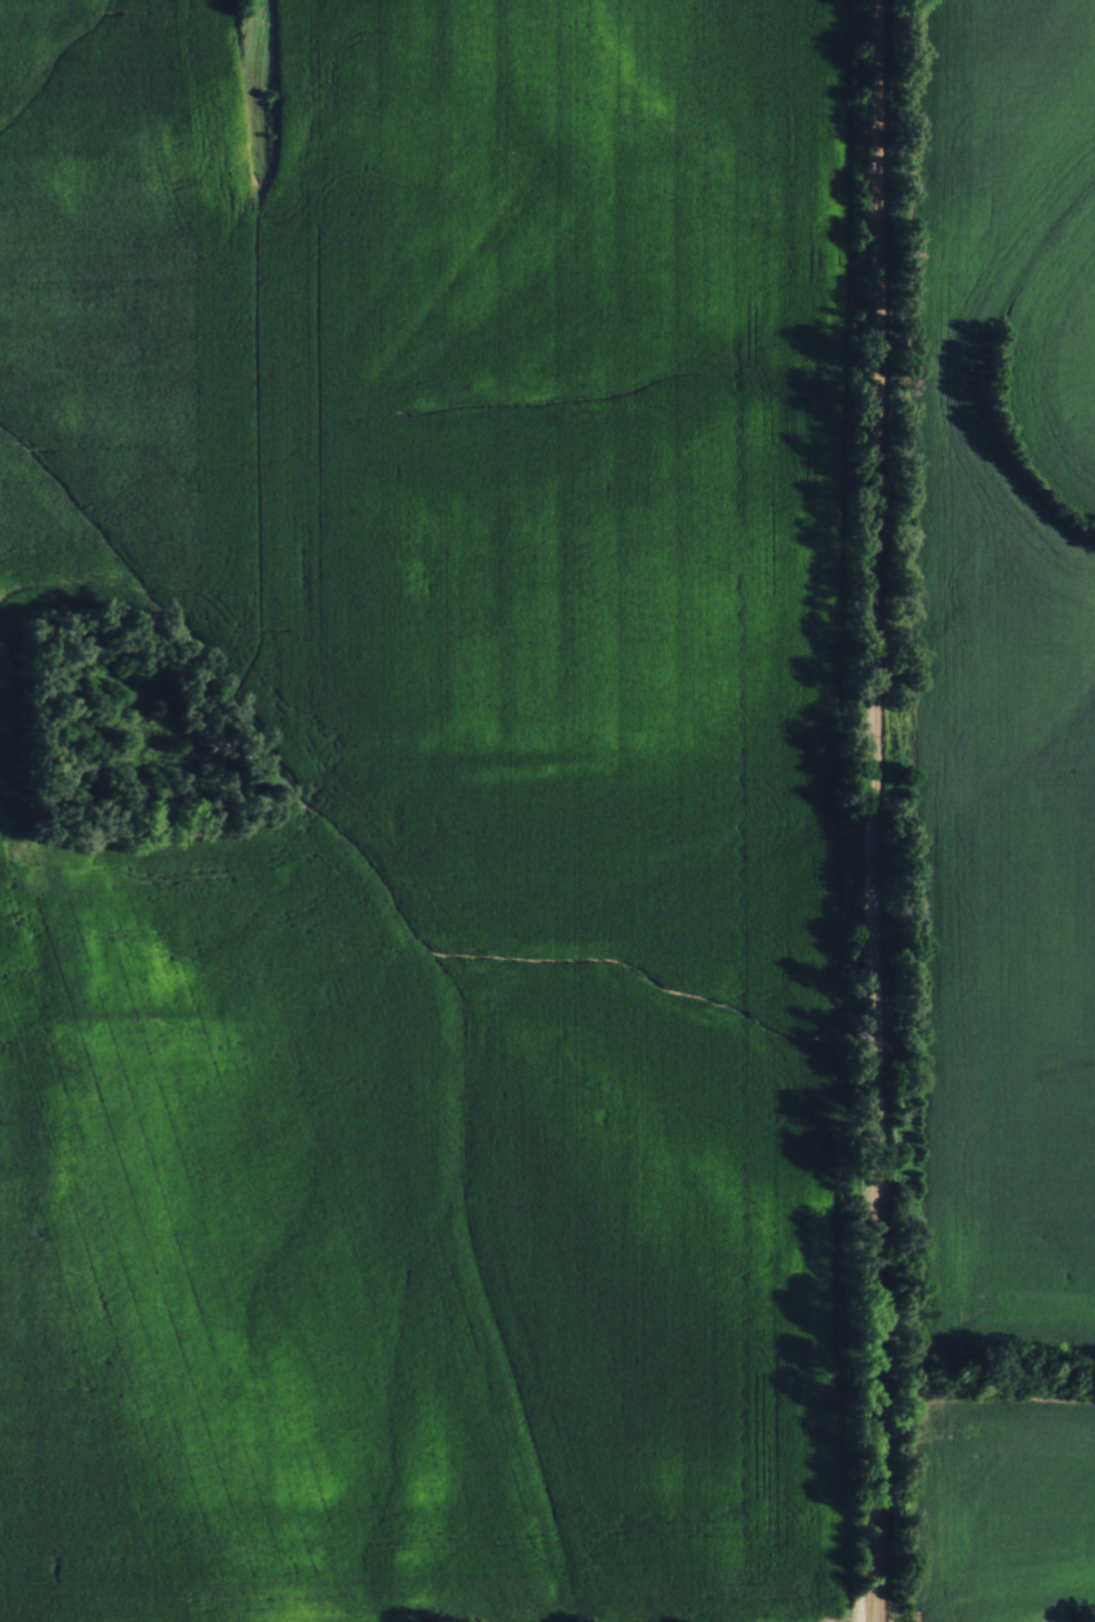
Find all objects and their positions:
road: (873, 811)

